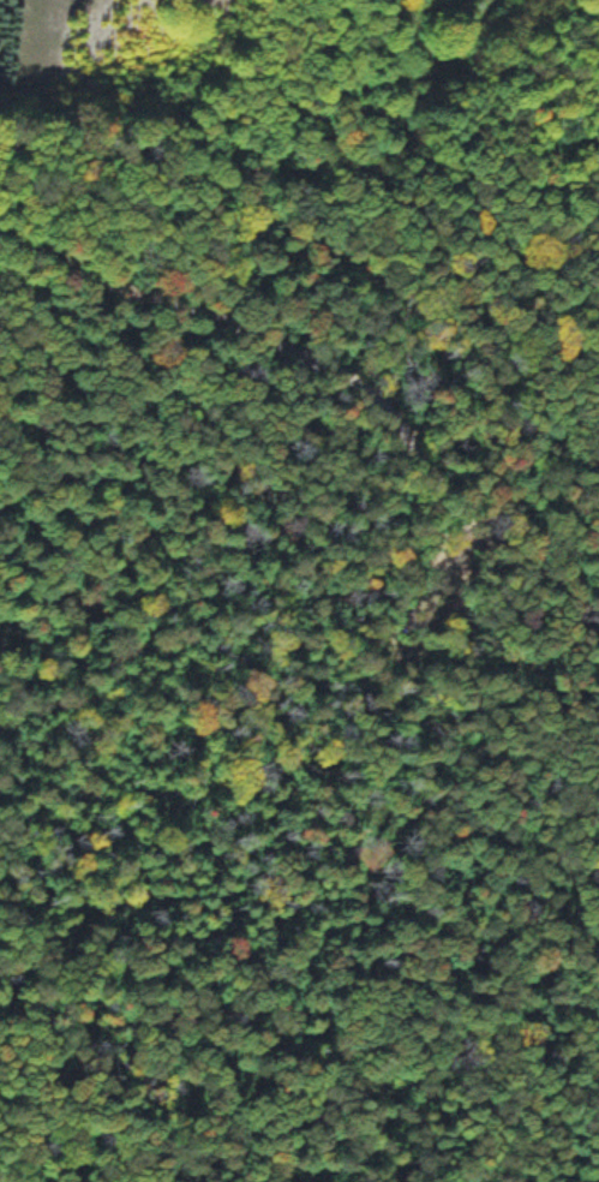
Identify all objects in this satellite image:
road: (343, 374)

